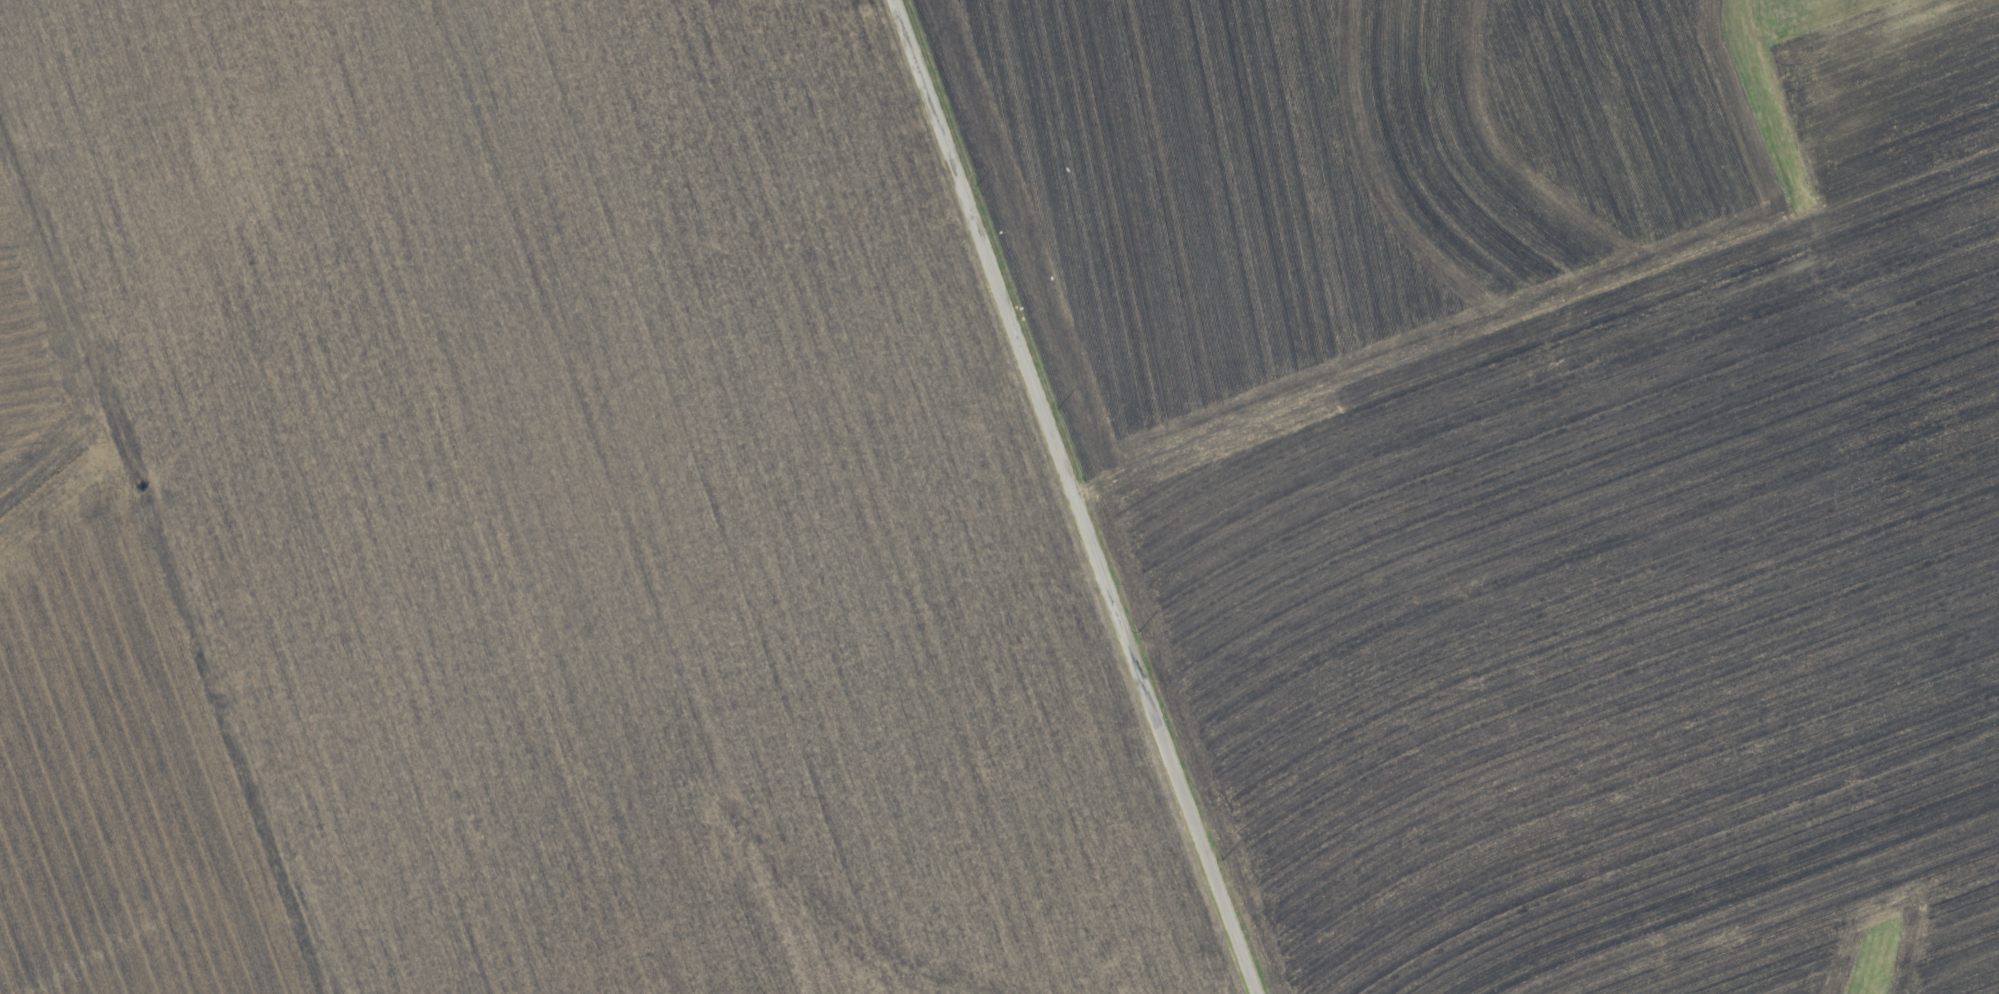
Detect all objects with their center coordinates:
road: (1072, 497)

